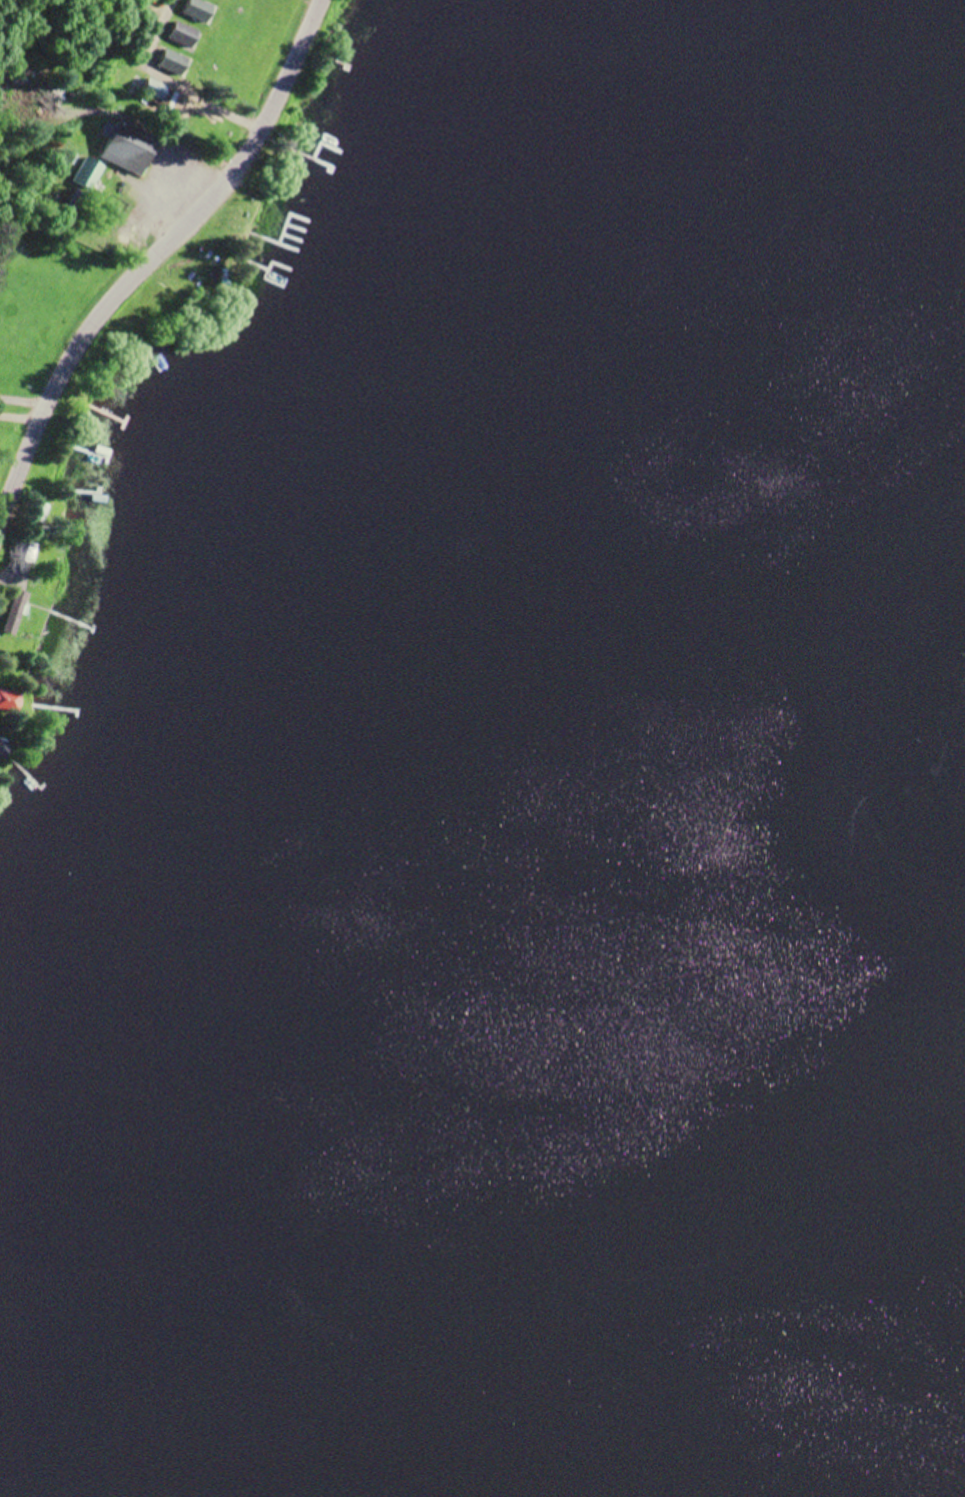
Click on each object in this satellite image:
building: (198, 9)
building: (184, 34)
building: (173, 61)
building: (158, 91)
building: (128, 146)
building: (89, 173)
building: (76, 205)
road: (154, 260)
building: (25, 552)
building: (15, 611)
building: (10, 699)
building: (3, 748)

